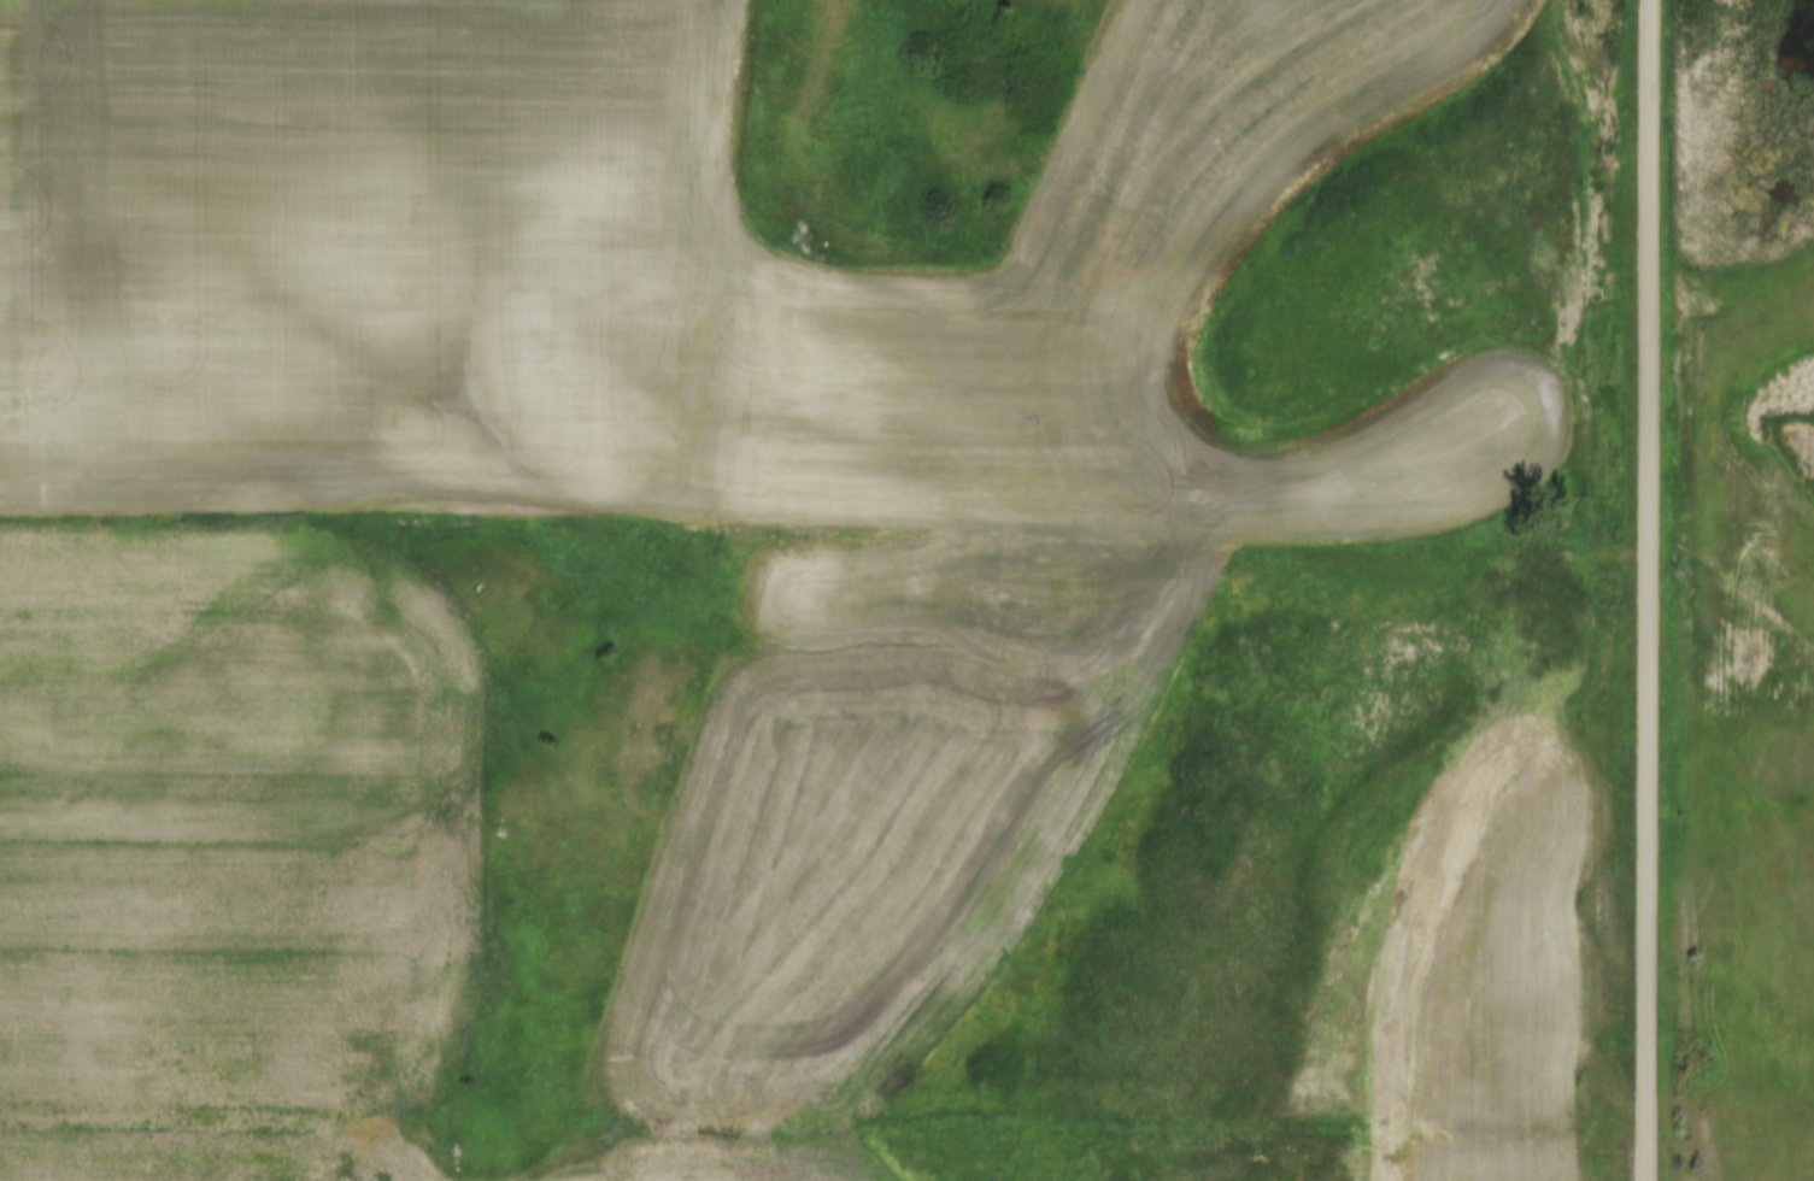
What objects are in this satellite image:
road: (1651, 590)

